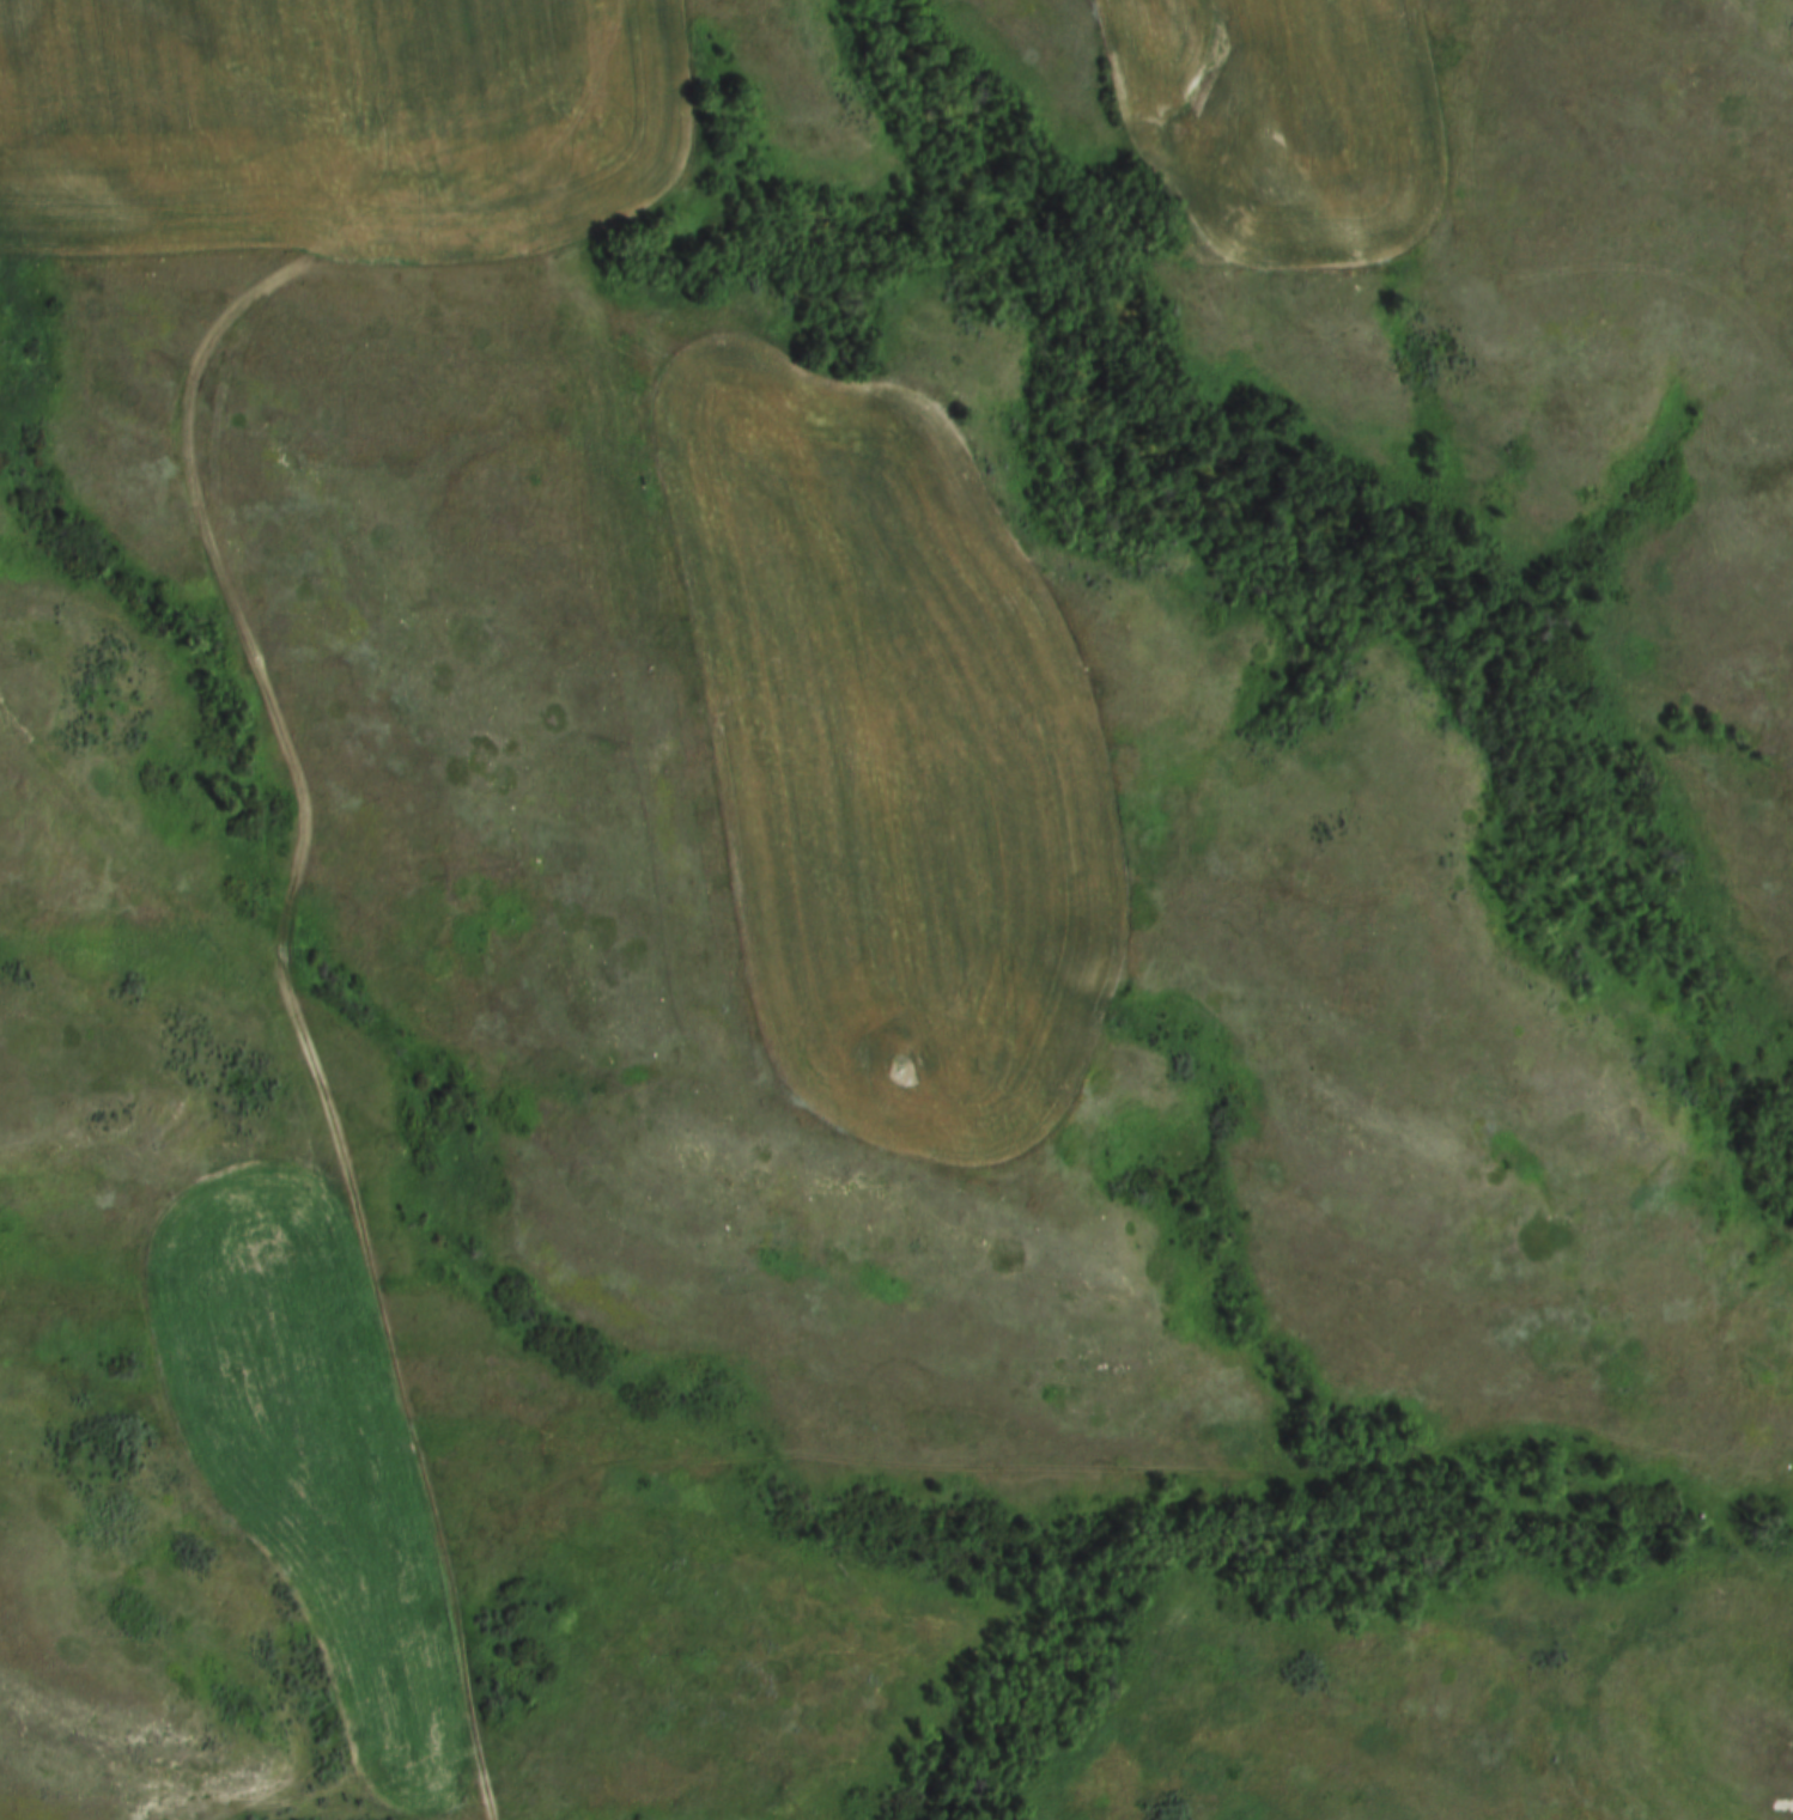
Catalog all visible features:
road: (442, 250)
road: (294, 1002)

